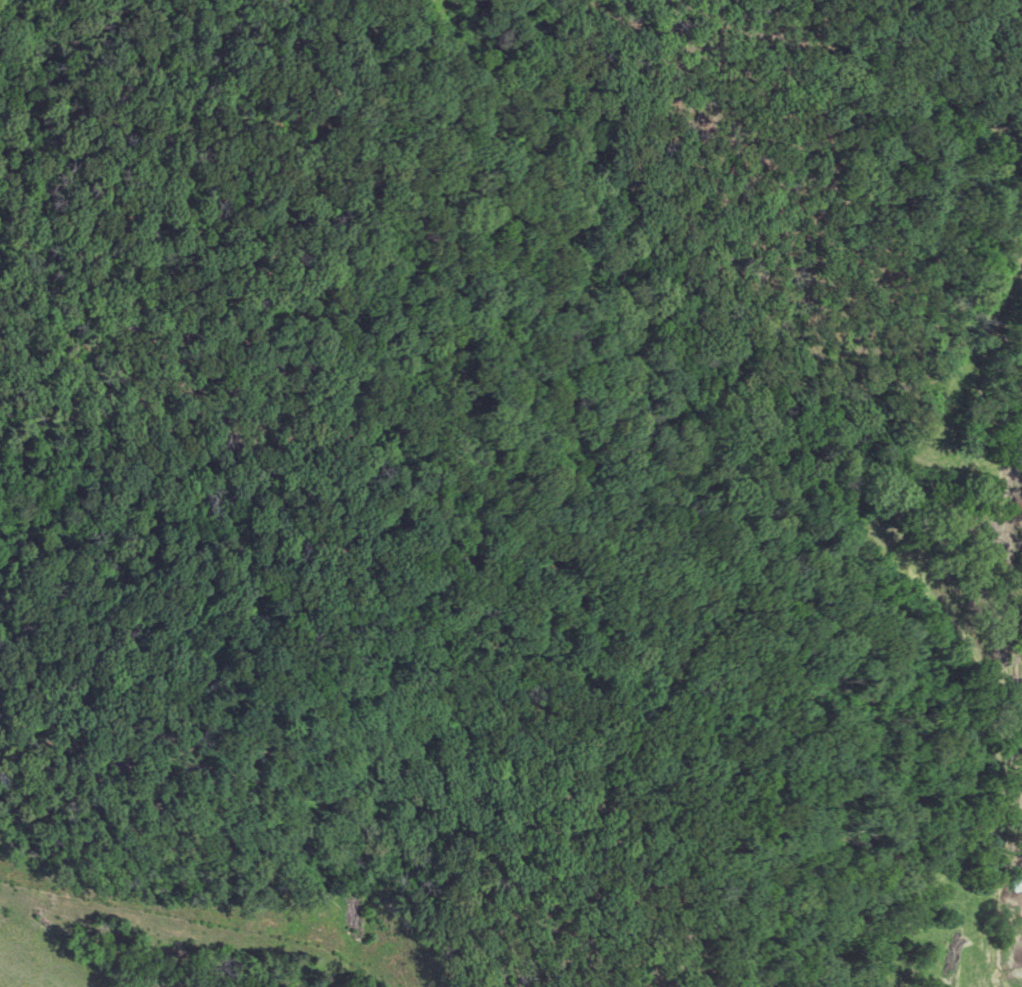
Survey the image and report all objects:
building: (1015, 882)

